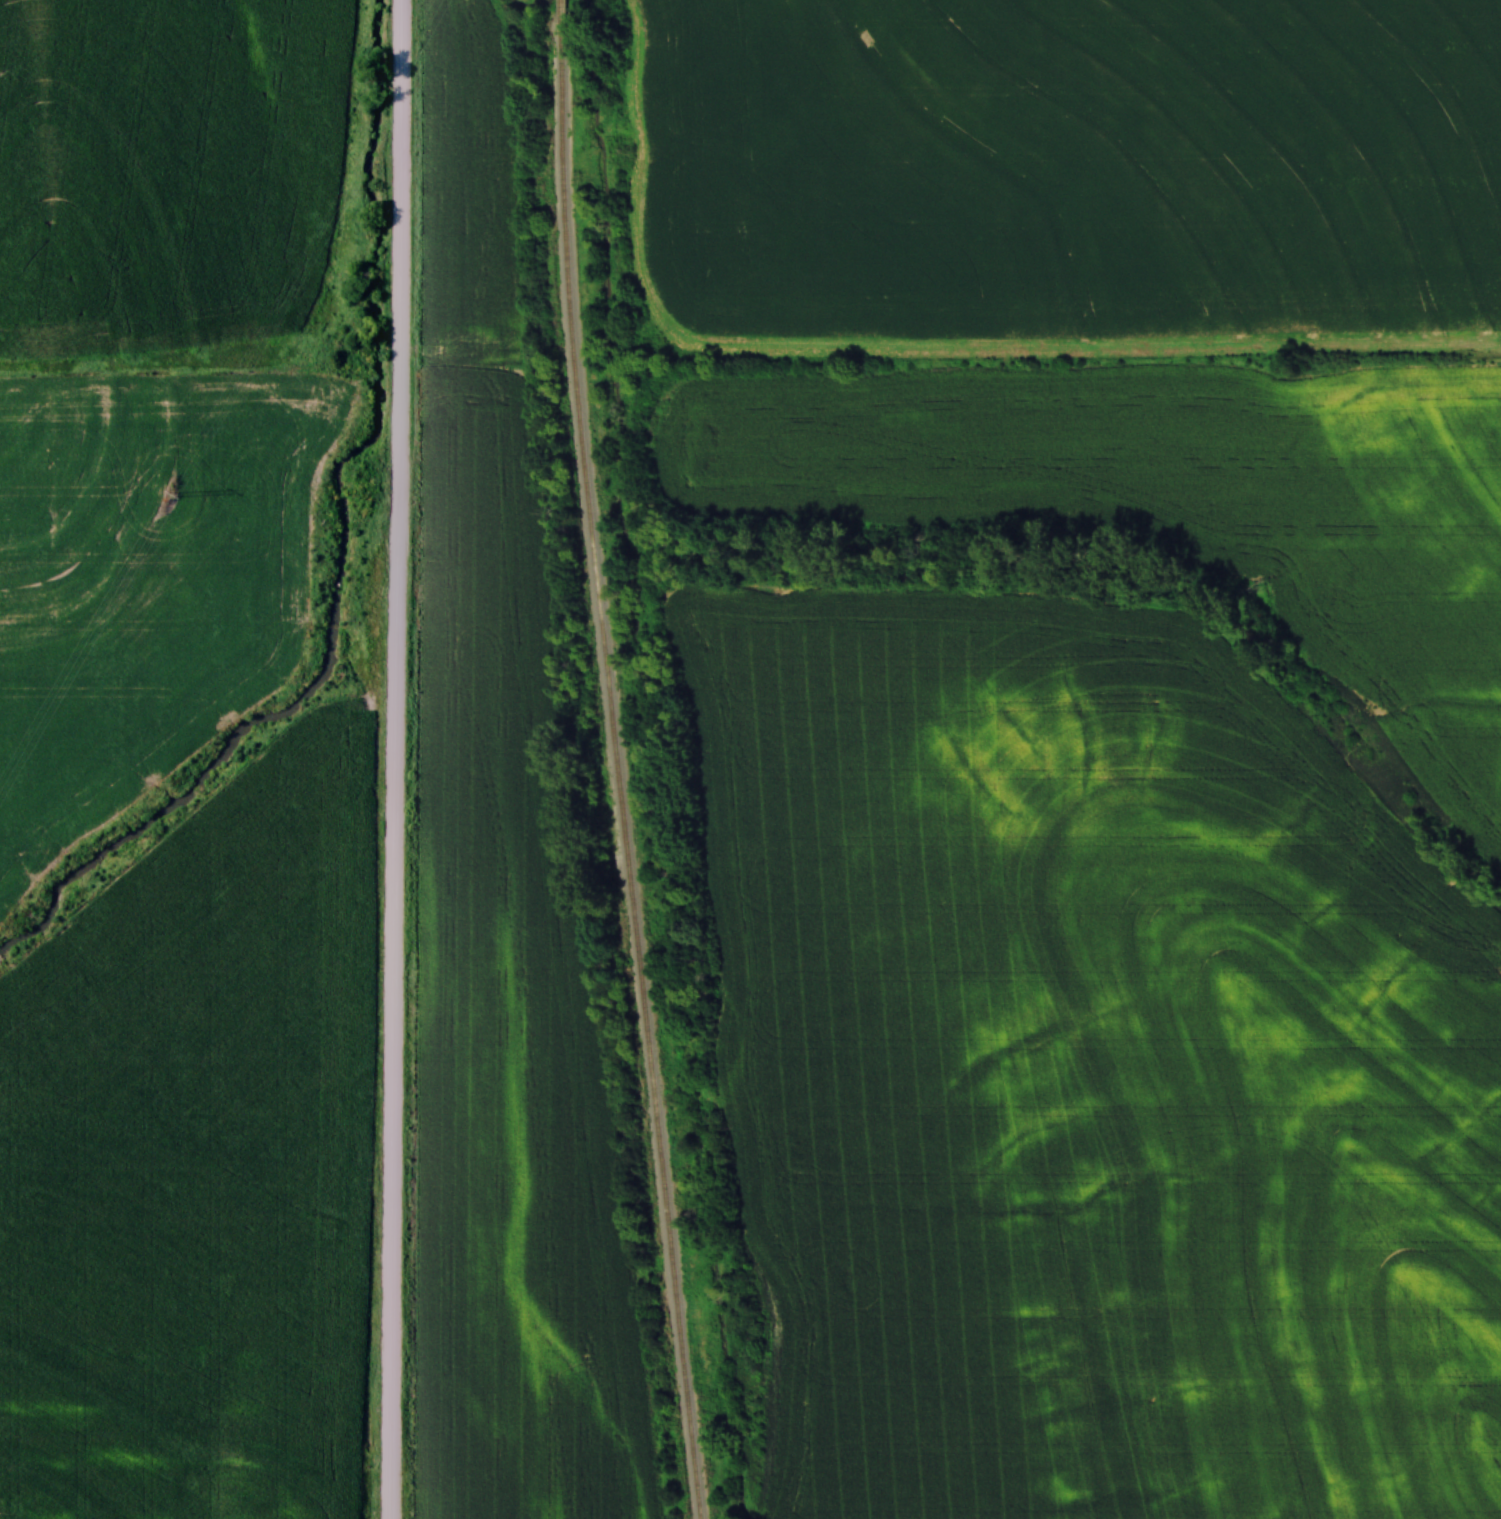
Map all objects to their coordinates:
road: (399, 759)
railway: (620, 760)

